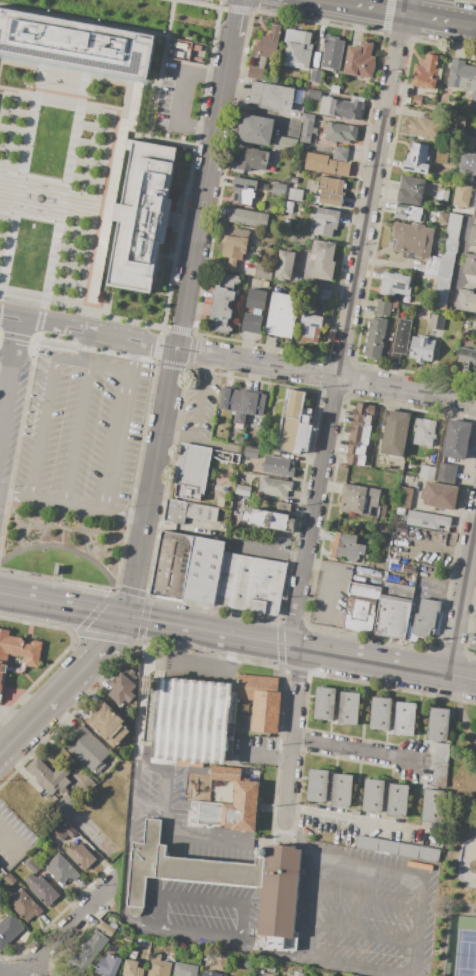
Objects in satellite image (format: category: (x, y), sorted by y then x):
road: (237, 10)
road: (399, 13)
road: (388, 15)
road: (231, 39)
building: (267, 44)
building: (75, 45)
building: (297, 49)
building: (332, 52)
building: (360, 60)
building: (257, 70)
building: (427, 73)
building: (316, 76)
road: (163, 78)
building: (463, 79)
building: (334, 89)
building: (313, 95)
building: (271, 96)
road: (179, 98)
building: (416, 100)
building: (325, 106)
building: (347, 108)
building: (457, 121)
building: (307, 125)
building: (426, 128)
building: (255, 129)
building: (314, 131)
building: (340, 132)
building: (304, 140)
building: (285, 143)
building: (468, 144)
building: (340, 153)
building: (350, 158)
building: (252, 159)
building: (417, 159)
building: (323, 164)
building: (461, 165)
building: (474, 166)
building: (294, 180)
road: (52, 189)
building: (278, 189)
building: (243, 190)
building: (411, 190)
building: (330, 192)
building: (295, 194)
building: (442, 195)
building: (460, 195)
building: (474, 204)
building: (457, 209)
building: (408, 212)
road: (200, 214)
building: (141, 216)
building: (247, 217)
building: (442, 217)
building: (326, 222)
building: (453, 227)
building: (472, 236)
building: (413, 239)
building: (234, 246)
building: (449, 246)
building: (323, 259)
building: (470, 264)
building: (284, 265)
building: (446, 265)
building: (432, 266)
building: (263, 271)
building: (395, 284)
building: (441, 290)
building: (322, 294)
road: (0, 295)
building: (466, 301)
building: (222, 303)
building: (254, 311)
building: (282, 315)
building: (436, 322)
road: (346, 323)
building: (474, 323)
building: (309, 325)
road: (161, 326)
road: (64, 329)
building: (376, 332)
building: (400, 339)
road: (38, 340)
road: (152, 345)
building: (422, 349)
road: (192, 352)
road: (127, 353)
road: (56, 355)
building: (467, 360)
road: (106, 363)
road: (9, 374)
road: (342, 377)
road: (168, 389)
building: (242, 404)
road: (197, 412)
building: (294, 425)
road: (40, 426)
building: (424, 431)
road: (75, 432)
building: (359, 433)
building: (395, 433)
parking lot: (81, 438)
road: (113, 439)
building: (457, 439)
building: (250, 452)
building: (278, 466)
building: (445, 470)
building: (191, 472)
building: (427, 472)
building: (274, 488)
building: (242, 490)
building: (439, 495)
building: (404, 497)
building: (358, 500)
building: (220, 502)
road: (72, 506)
building: (175, 512)
building: (202, 512)
building: (269, 520)
building: (427, 520)
road: (144, 524)
building: (396, 527)
park: (61, 547)
building: (346, 548)
road: (436, 549)
road: (310, 559)
building: (171, 564)
building: (203, 570)
building: (368, 572)
building: (250, 583)
road: (125, 591)
road: (462, 599)
road: (60, 604)
building: (362, 607)
building: (393, 610)
building: (475, 615)
traffic signals: (121, 616)
road: (135, 618)
building: (422, 621)
road: (223, 634)
road: (280, 644)
road: (103, 646)
building: (472, 648)
building: (17, 653)
road: (189, 664)
road: (386, 664)
building: (123, 686)
road: (63, 689)
road: (142, 693)
building: (261, 701)
building: (325, 704)
road: (461, 706)
building: (348, 708)
building: (380, 714)
building: (405, 719)
building: (190, 720)
building: (239, 722)
building: (107, 724)
building: (438, 724)
road: (23, 729)
road: (294, 736)
road: (353, 750)
building: (90, 753)
building: (441, 760)
road: (166, 772)
building: (49, 777)
building: (88, 784)
building: (317, 785)
road: (133, 786)
building: (342, 790)
building: (246, 794)
building: (373, 796)
building: (398, 801)
building: (64, 805)
building: (433, 806)
road: (147, 807)
building: (356, 813)
building: (69, 830)
road: (292, 831)
road: (9, 839)
road: (193, 839)
road: (308, 849)
building: (398, 849)
building: (80, 856)
park: (459, 857)
park: (467, 860)
building: (33, 866)
building: (182, 867)
road: (127, 868)
building: (61, 869)
road: (386, 871)
building: (432, 875)
building: (41, 890)
building: (279, 892)
road: (203, 898)
road: (367, 900)
building: (24, 906)
road: (148, 925)
road: (419, 926)
building: (9, 929)
road: (65, 929)
building: (106, 929)
road: (379, 936)
building: (128, 939)
building: (274, 941)
park: (462, 947)
building: (88, 952)
road: (276, 955)
building: (108, 965)
building: (158, 966)
building: (132, 968)
road: (353, 968)
building: (185, 969)
building: (210, 973)
building: (297, 973)
road: (5, 974)

